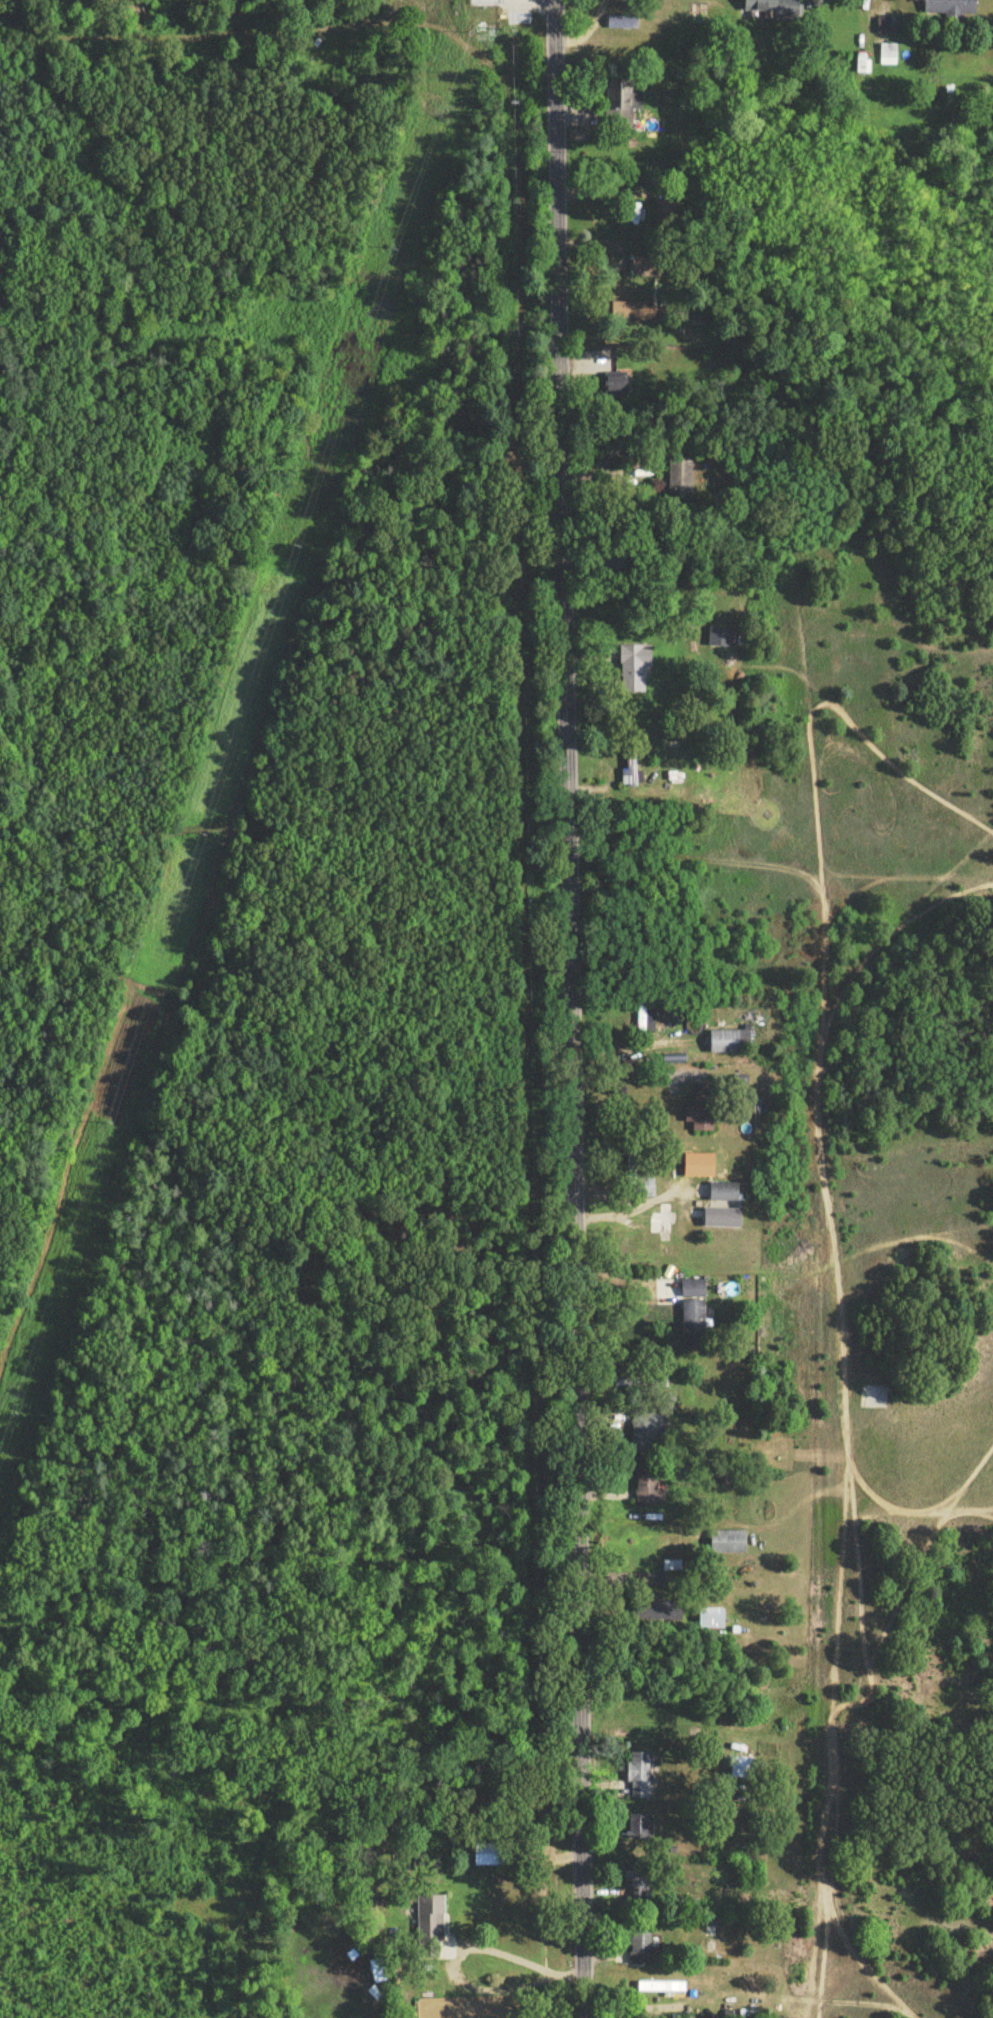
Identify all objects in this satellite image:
power substation: (485, 4)
building: (764, 7)
building: (953, 10)
building: (623, 24)
building: (888, 58)
building: (862, 66)
building: (620, 101)
road: (608, 188)
building: (615, 385)
building: (680, 478)
building: (715, 638)
building: (636, 660)
building: (630, 773)
road: (568, 1008)
building: (645, 1022)
building: (725, 1045)
road: (624, 1072)
building: (700, 1114)
building: (724, 1195)
road: (629, 1212)
building: (715, 1221)
building: (693, 1291)
building: (693, 1326)
building: (648, 1491)
building: (729, 1544)
building: (671, 1577)
building: (665, 1613)
building: (713, 1621)
building: (744, 1769)
building: (641, 1778)
building: (641, 1828)
building: (642, 1885)
building: (640, 1950)
road: (522, 1959)

